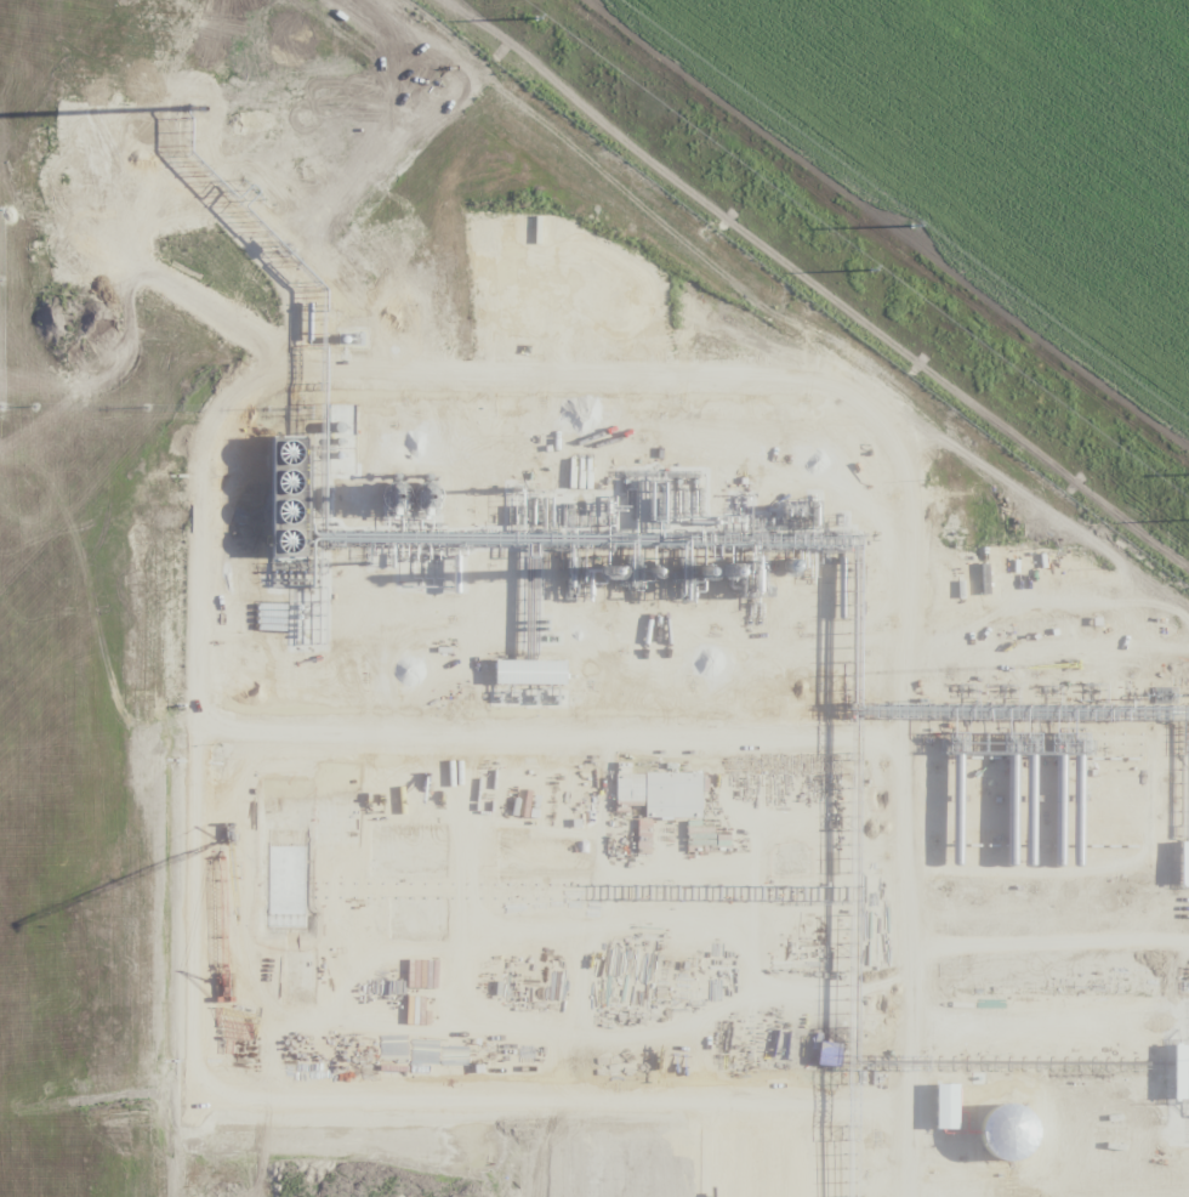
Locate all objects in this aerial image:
power tower: (535, 18)
power tower: (904, 222)
power tower: (871, 268)
crop: (594, 598)

